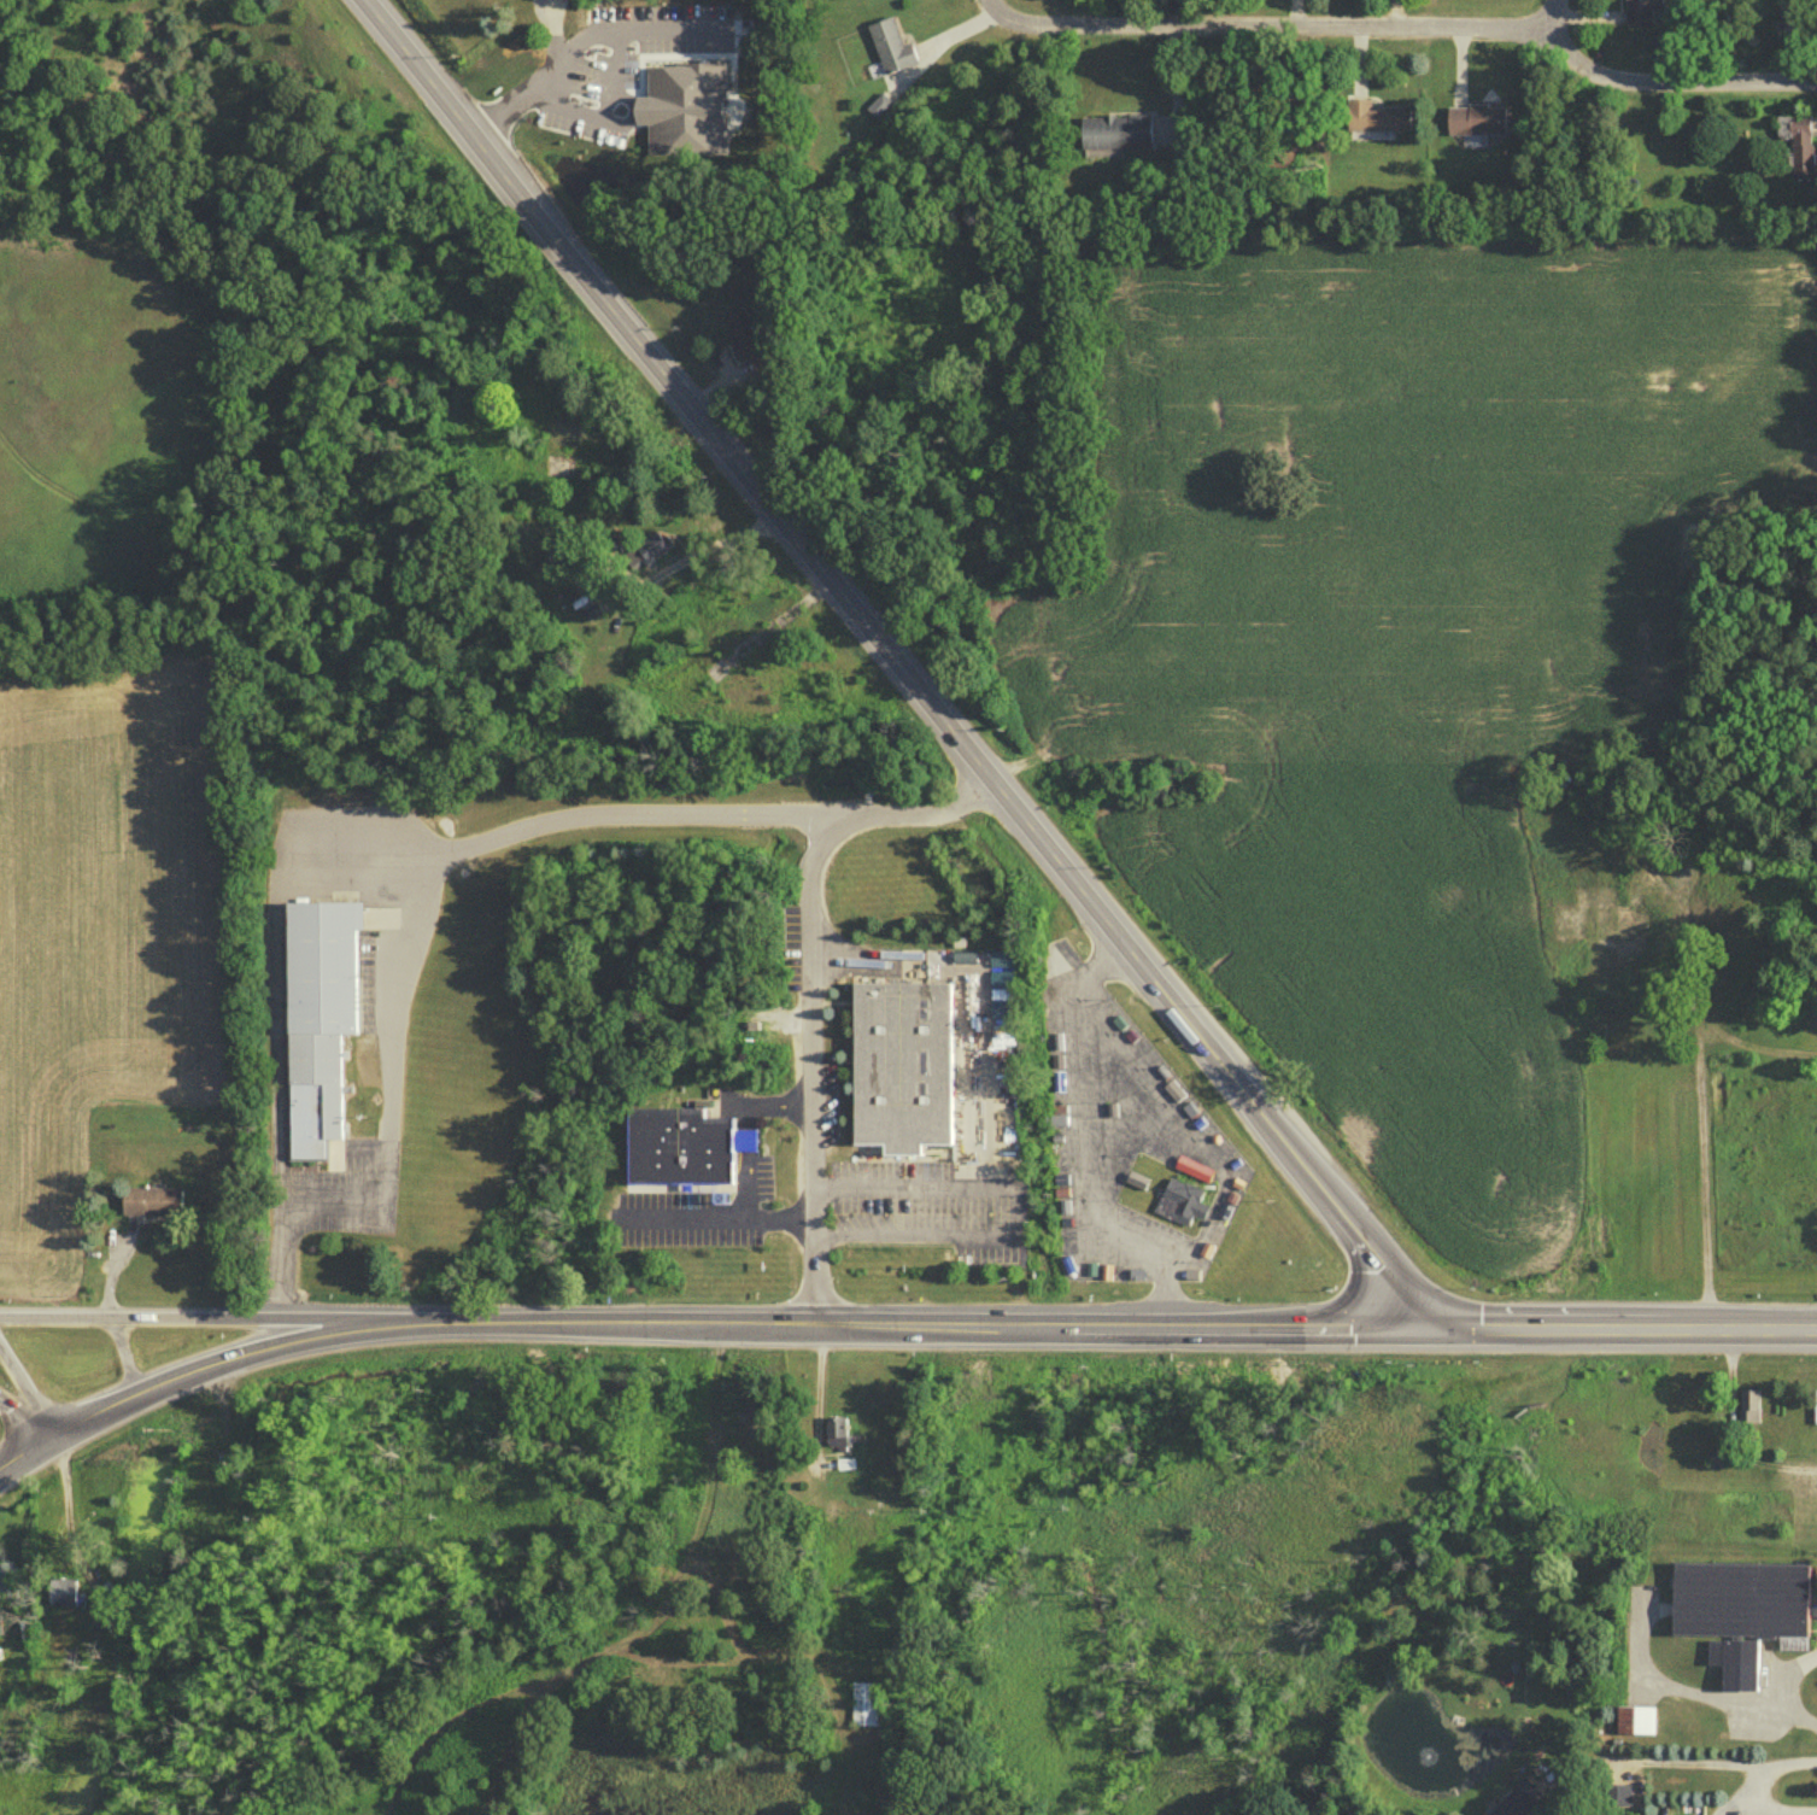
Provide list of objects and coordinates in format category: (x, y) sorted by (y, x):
building: (1636, 16)
road: (1271, 24)
road: (574, 52)
building: (890, 52)
road: (1661, 77)
building: (617, 92)
building: (1373, 122)
building: (1475, 127)
building: (1114, 137)
building: (1799, 150)
road: (710, 541)
building: (617, 548)
building: (644, 558)
road: (890, 660)
road: (416, 925)
building: (1602, 930)
road: (277, 970)
road: (810, 996)
building: (323, 1012)
building: (899, 1061)
road: (778, 1112)
road: (745, 1120)
road: (1700, 1137)
building: (681, 1143)
road: (744, 1143)
road: (1191, 1148)
road: (1077, 1149)
road: (966, 1190)
road: (744, 1192)
building: (151, 1207)
road: (722, 1223)
road: (879, 1239)
road: (229, 1324)
road: (931, 1330)
traffic signals: (1405, 1333)
road: (1610, 1334)
road: (125, 1362)
road: (217, 1370)
road: (1722, 1377)
road: (29, 1395)
building: (1745, 1403)
building: (1815, 1403)
road: (22, 1425)
building: (197, 1430)
building: (834, 1438)
building: (1710, 1457)
building: (1741, 1596)
building: (68, 1598)
building: (1734, 1659)
road: (1787, 1685)
building: (864, 1709)
building: (1628, 1716)
road: (1651, 1756)
road: (1757, 1786)
building: (1504, 1803)

